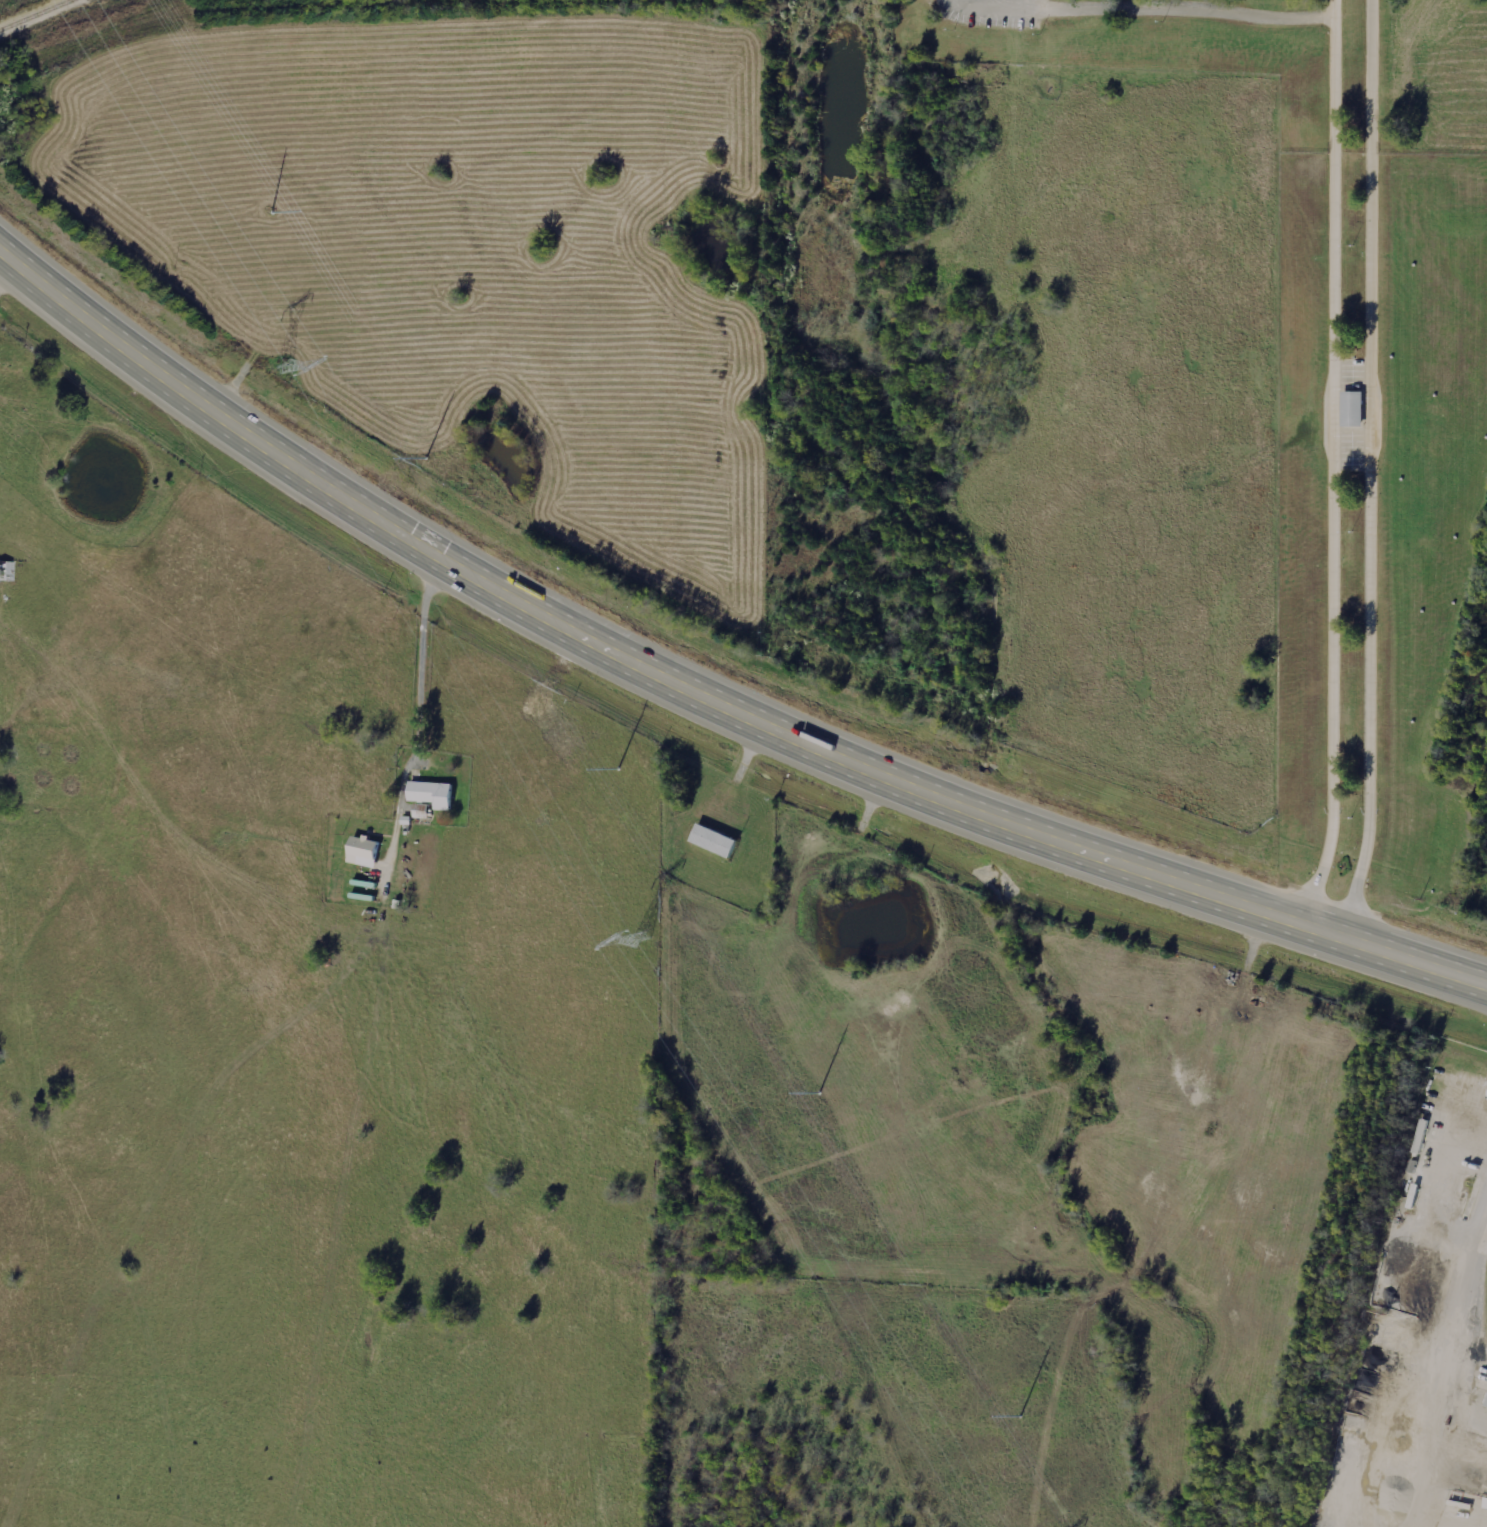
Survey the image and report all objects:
road: (1040, 2)
road: (999, 5)
road: (1191, 5)
railway: (37, 15)
power tower: (253, 187)
power tower: (287, 369)
building: (1351, 408)
road: (1345, 466)
road: (1378, 471)
power tower: (432, 479)
road: (703, 699)
power tower: (597, 744)
building: (435, 793)
building: (717, 840)
building: (366, 851)
power tower: (642, 940)
power tower: (759, 998)
railway: (1389, 1128)
power tower: (953, 1318)
building: (1485, 1403)

